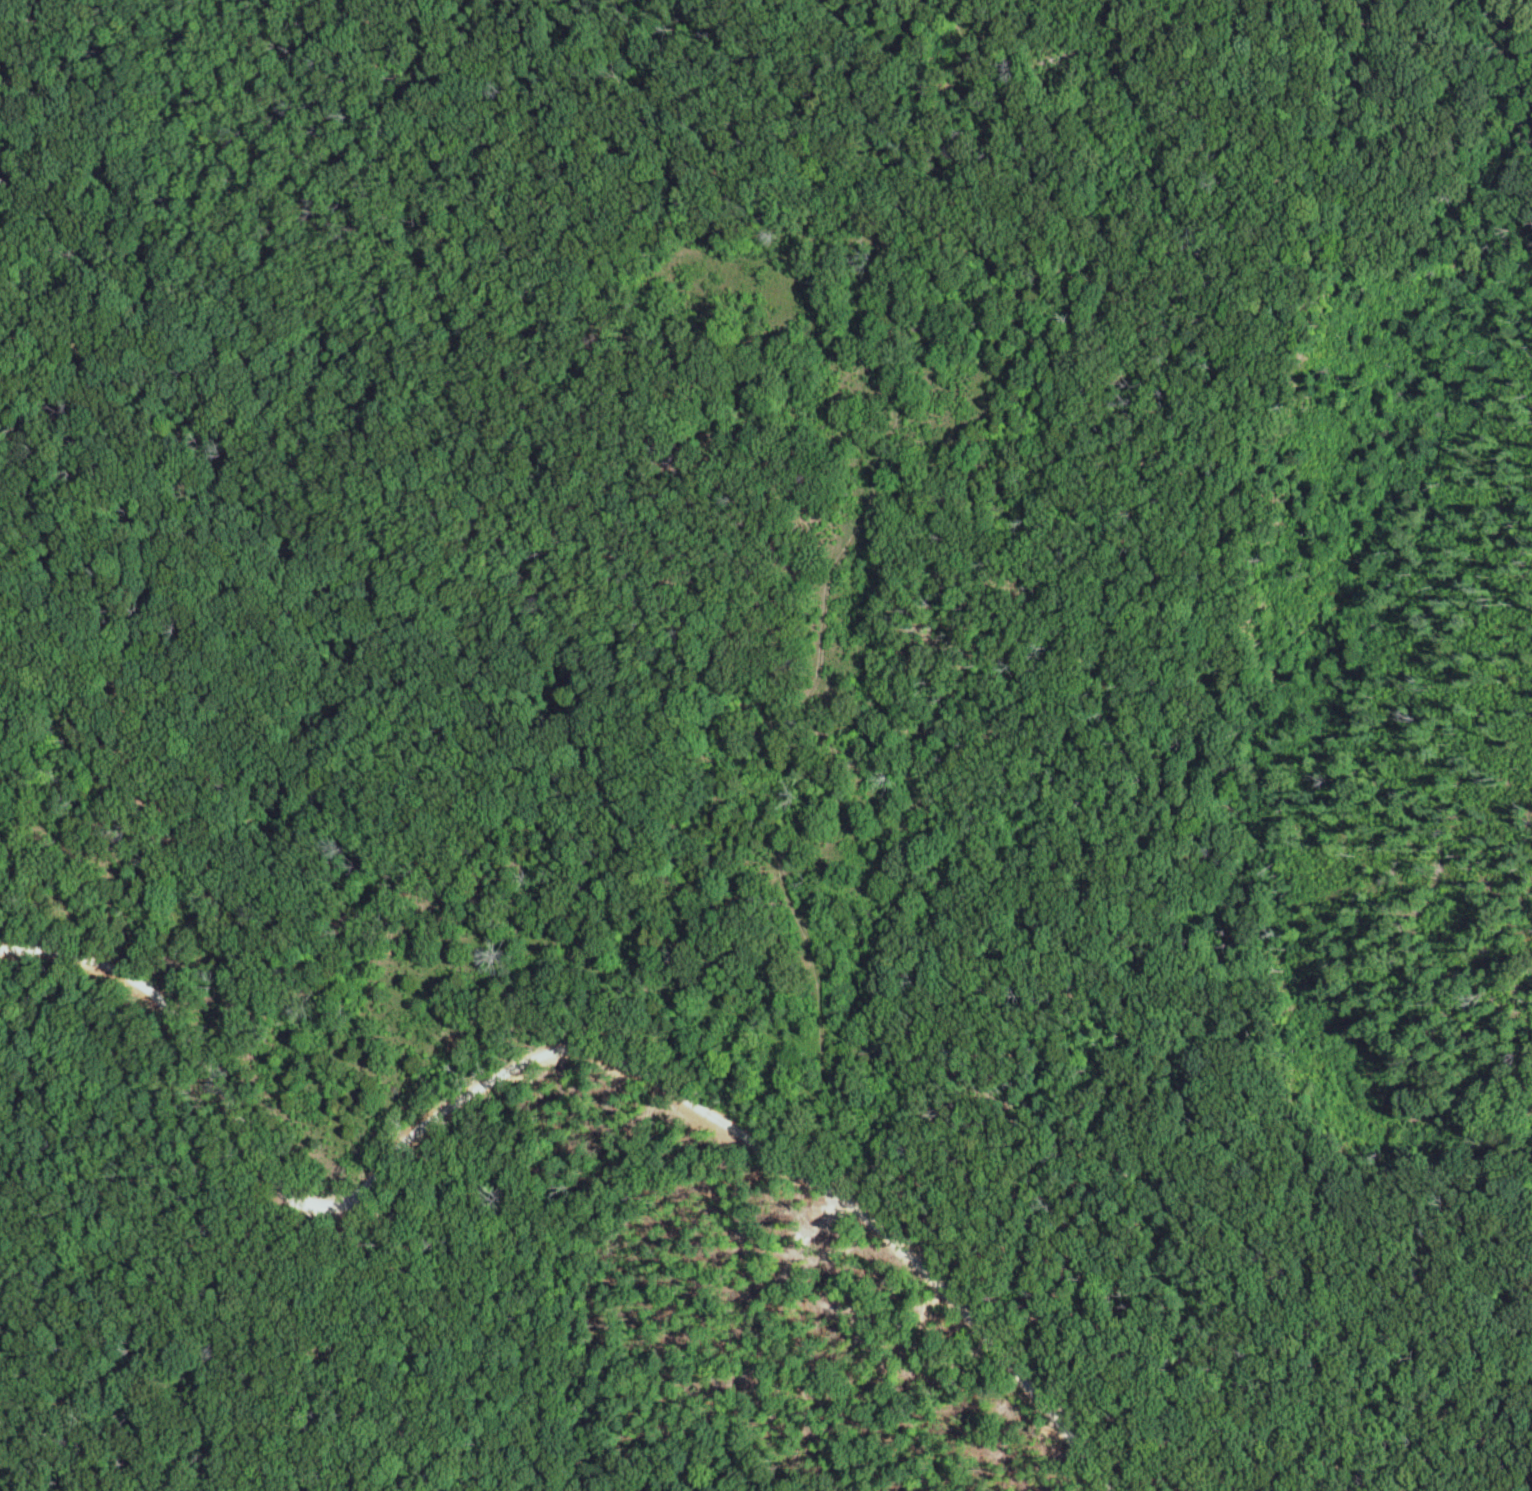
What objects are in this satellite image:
road: (530, 1035)

